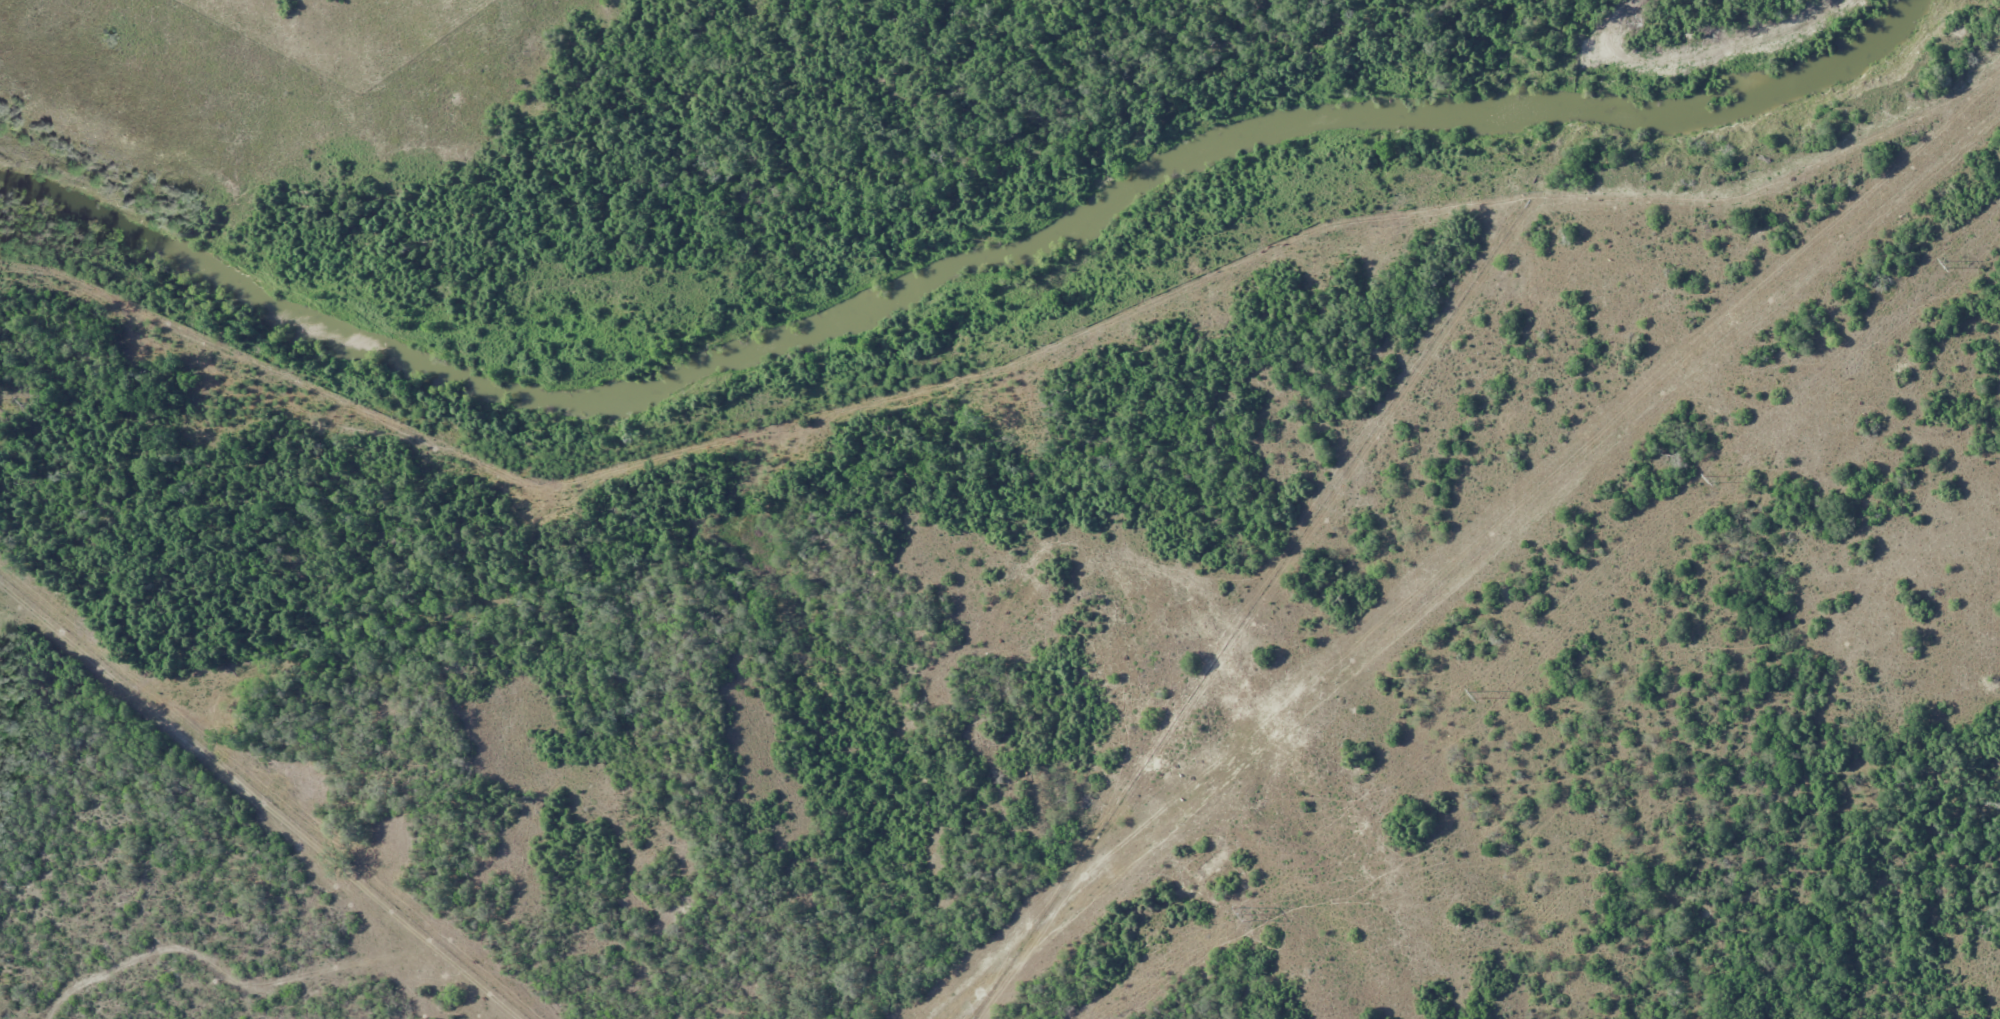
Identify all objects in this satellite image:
power tower: (1947, 264)
river: (949, 268)
power tower: (1713, 478)
power tower: (1478, 694)
power tower: (1247, 913)

